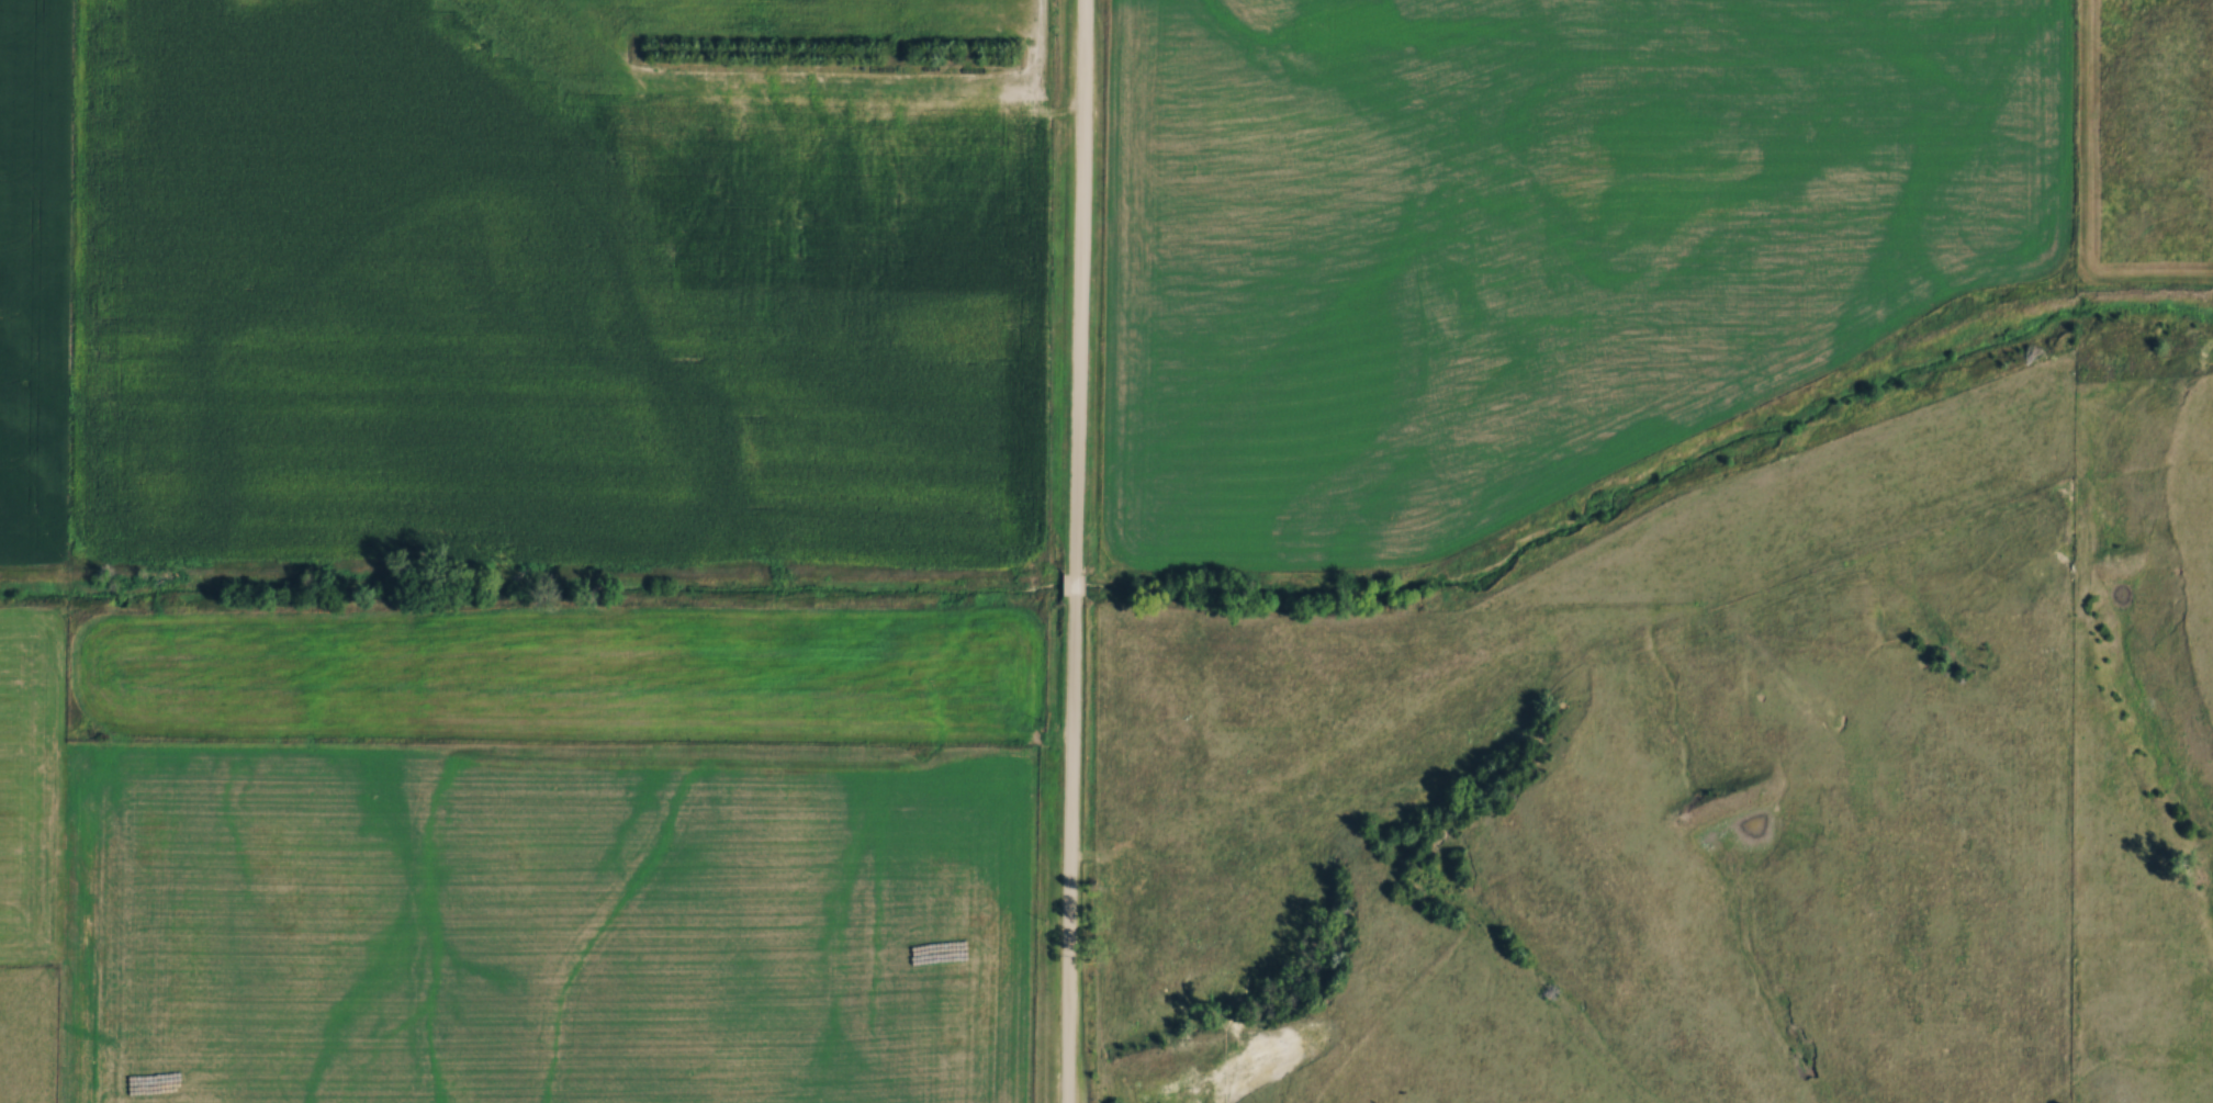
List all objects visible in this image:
road: (1074, 551)

